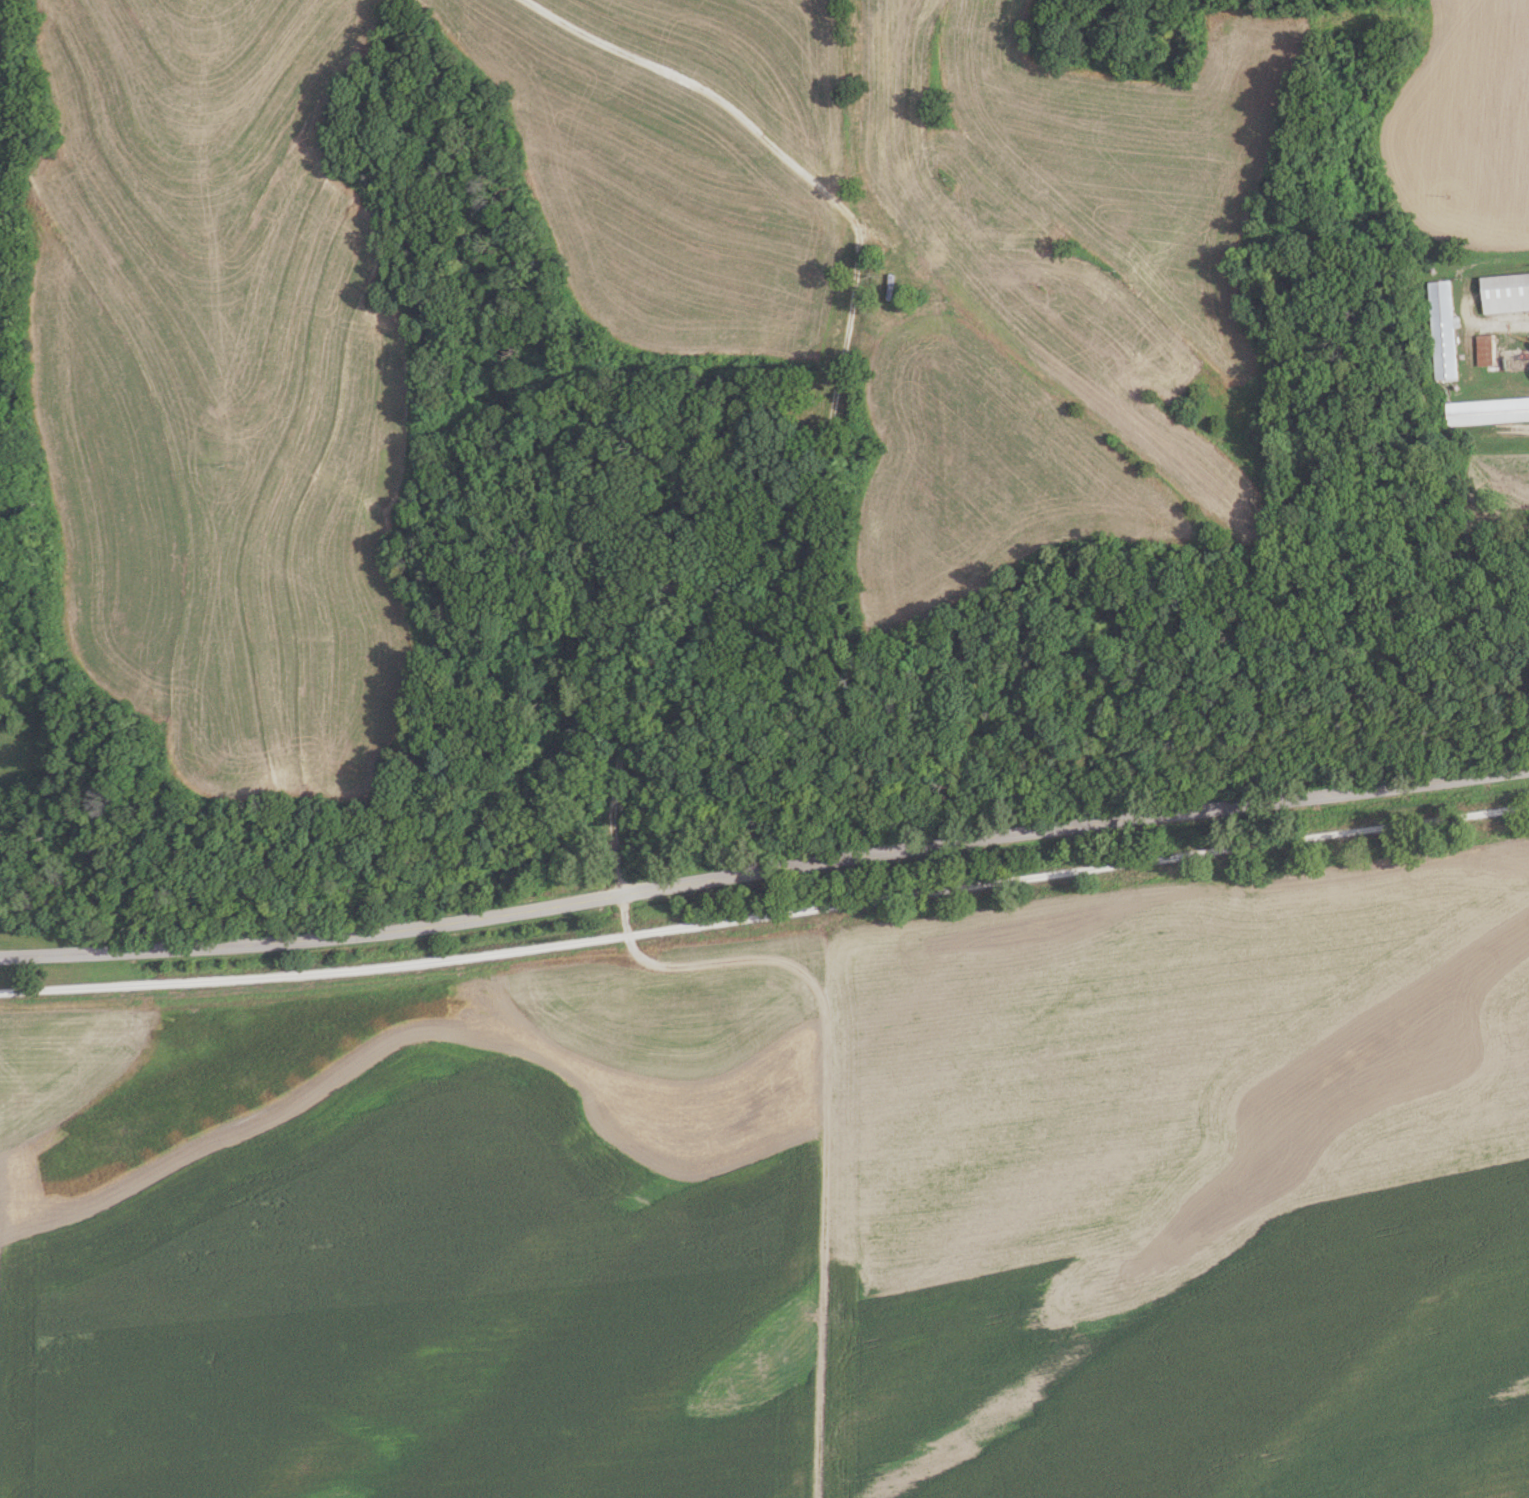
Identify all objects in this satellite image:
building: (881, 21)
building: (878, 80)
building: (935, 253)
building: (897, 269)
building: (1505, 293)
road: (1494, 325)
building: (1442, 330)
building: (1485, 350)
building: (1486, 411)
road: (1524, 428)
road: (735, 574)
road: (764, 869)
road: (766, 916)

